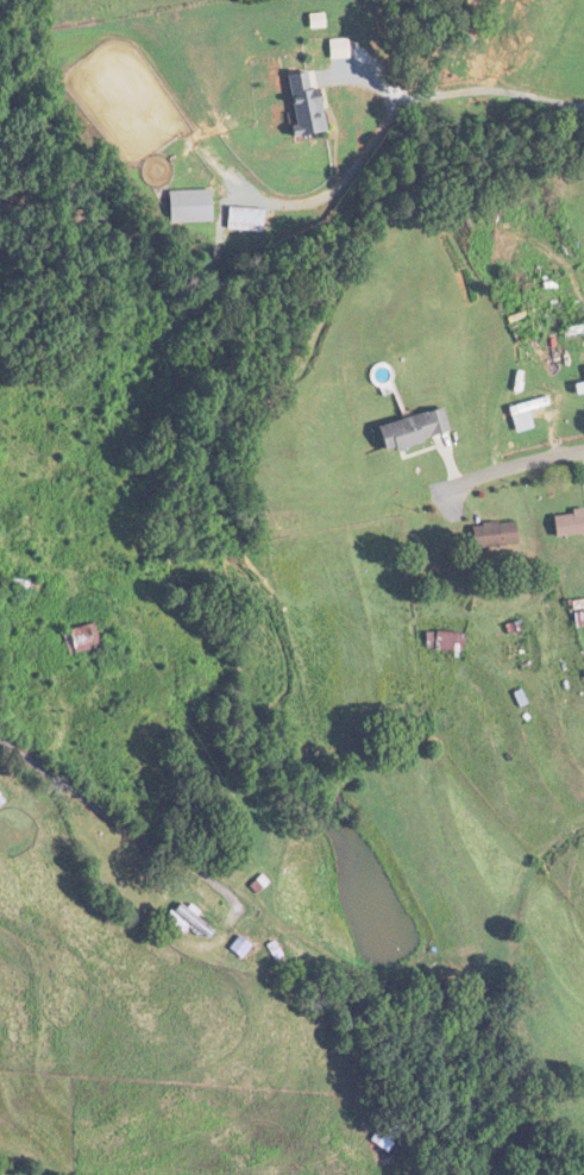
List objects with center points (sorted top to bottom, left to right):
building: (309, 106)
road: (398, 111)
building: (193, 205)
building: (247, 219)
building: (579, 387)
building: (527, 407)
building: (412, 429)
road: (552, 455)
road: (482, 472)
building: (567, 524)
building: (492, 535)
building: (24, 584)
building: (83, 639)
building: (444, 641)
road: (99, 802)

